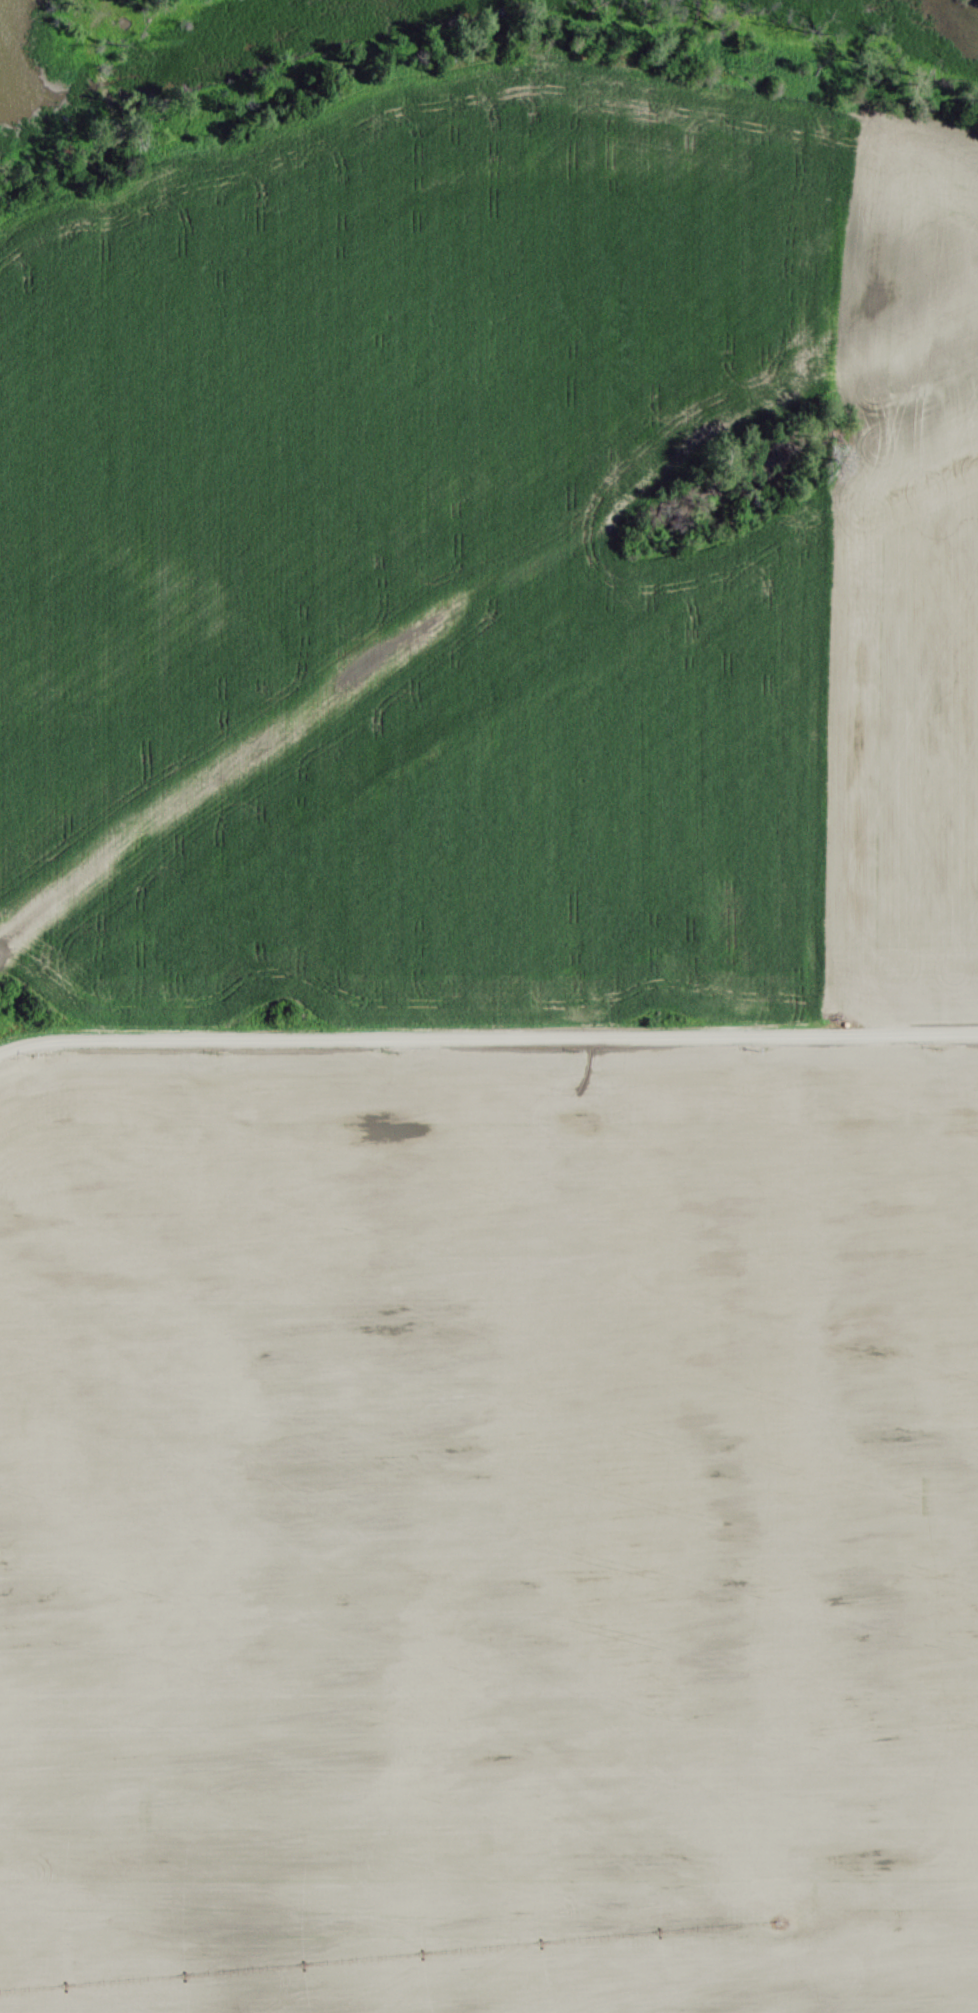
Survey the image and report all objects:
park: (100, 22)
road: (488, 1037)

